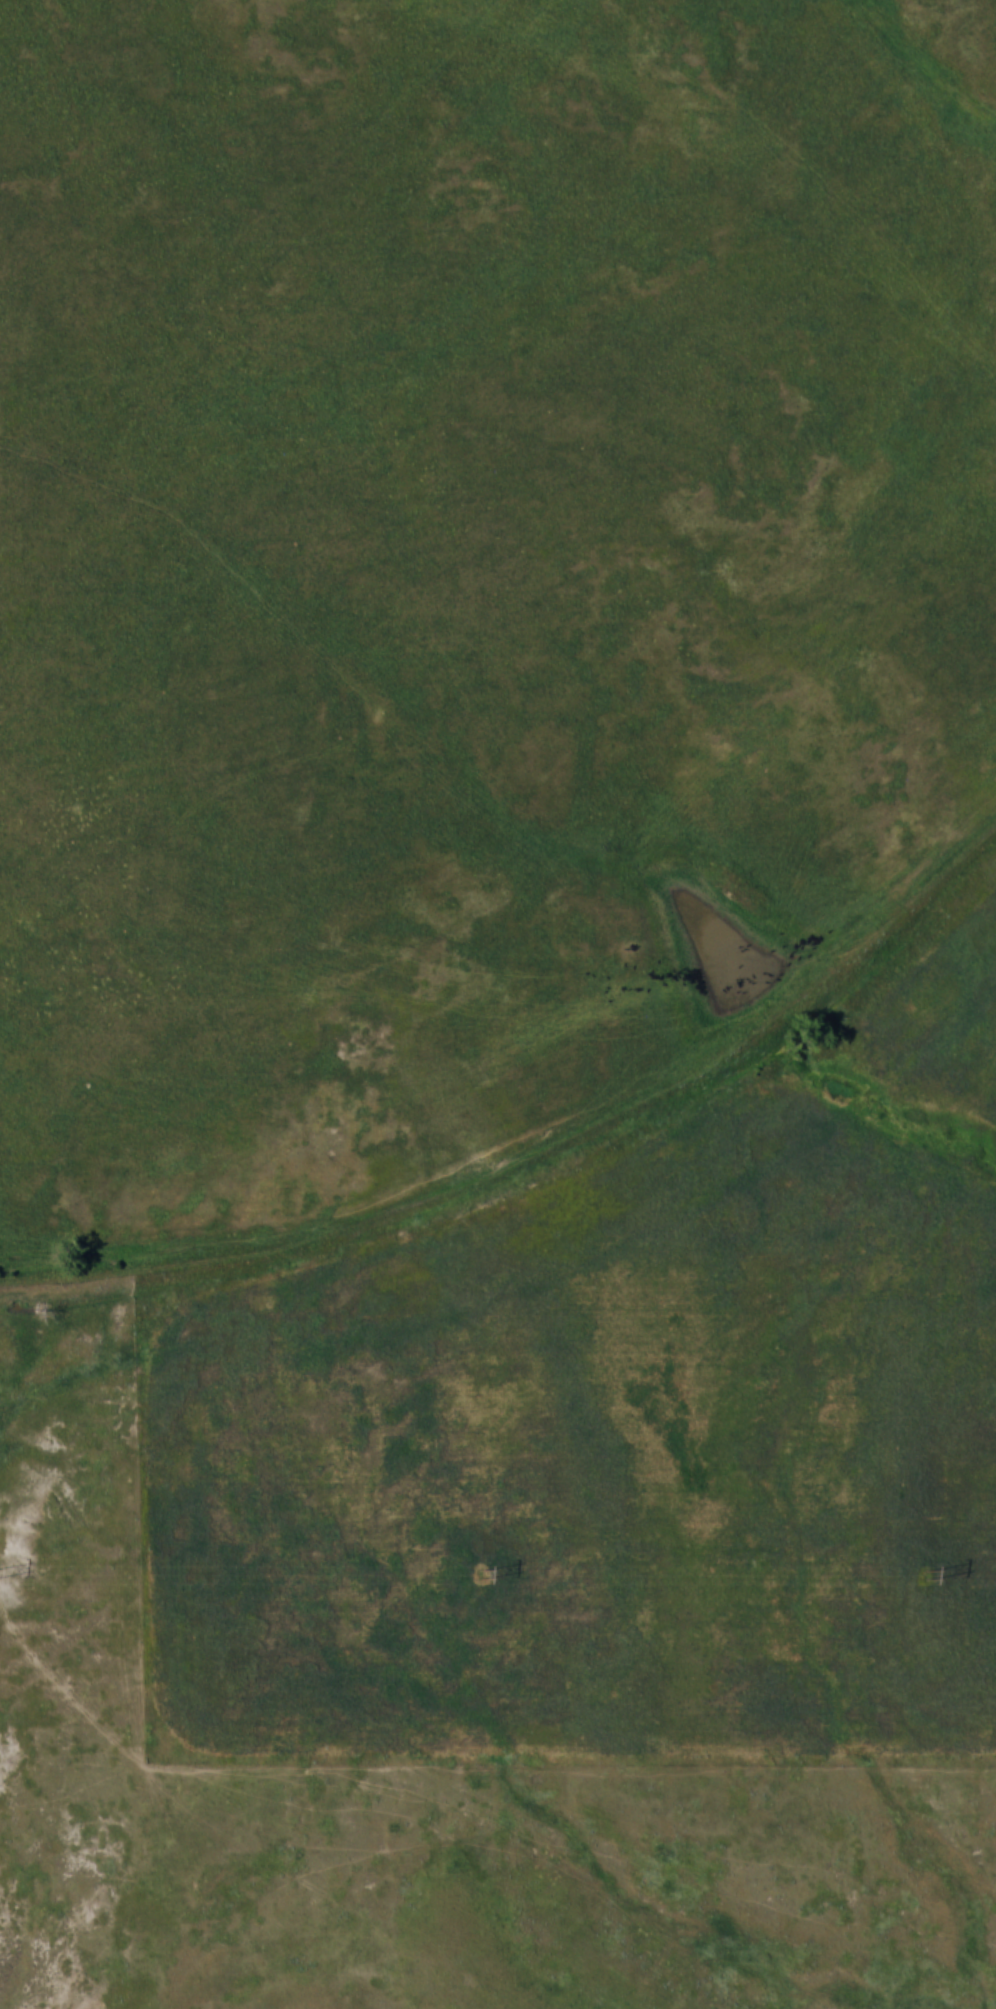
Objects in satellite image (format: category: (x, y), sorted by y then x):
power tower: (484, 1576)
power tower: (925, 1577)

